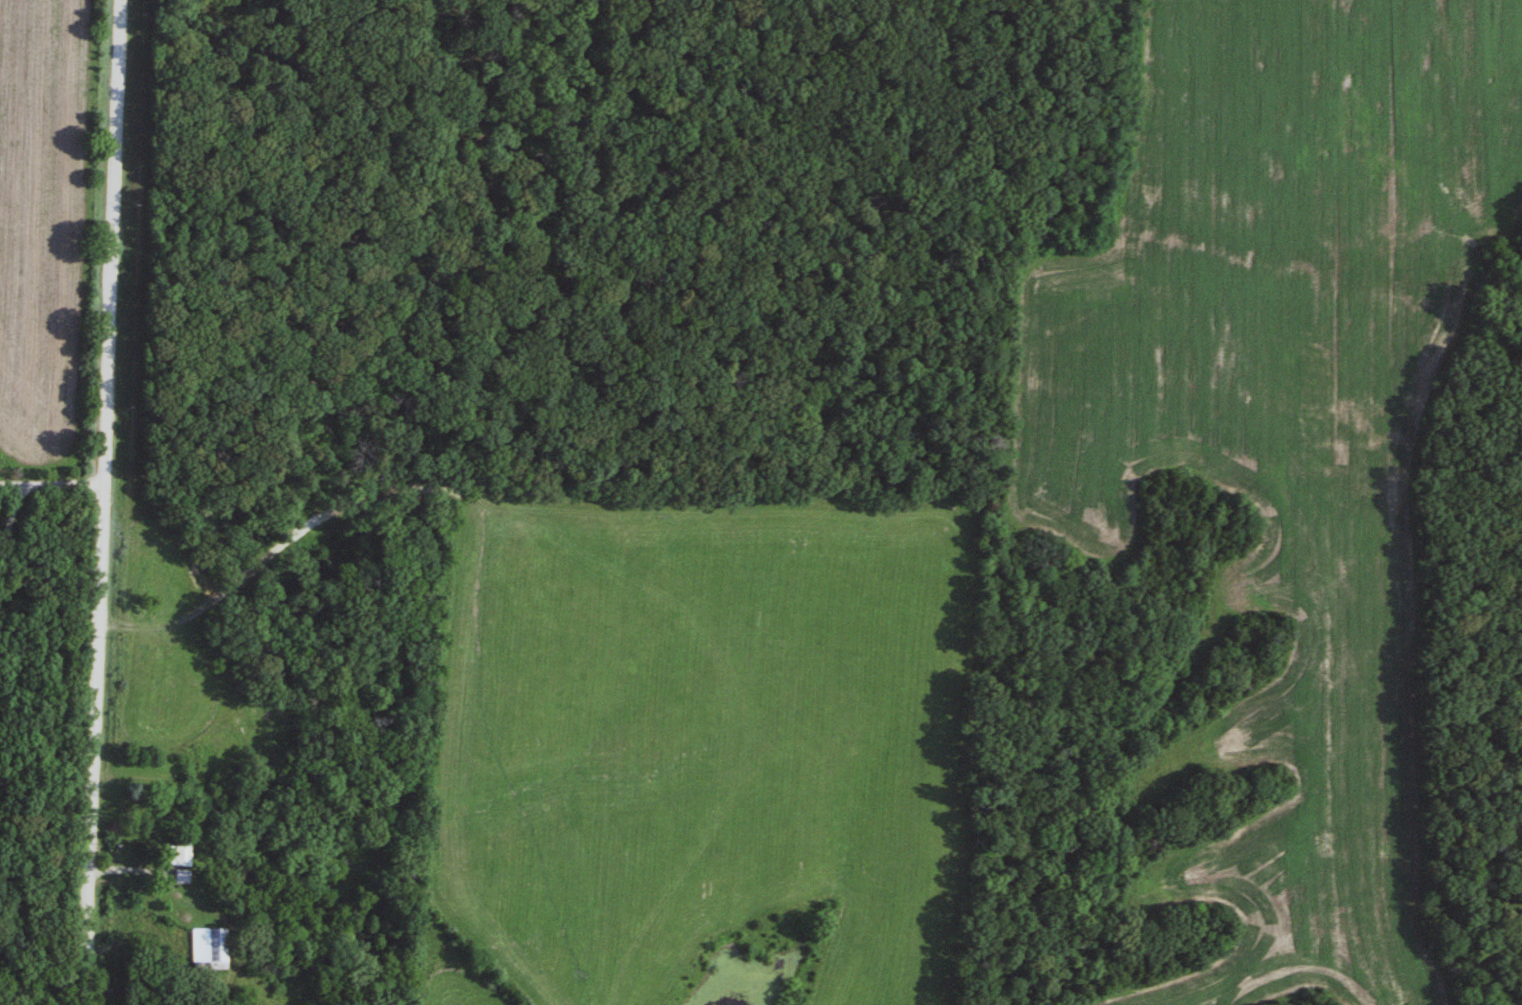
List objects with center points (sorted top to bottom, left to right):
road: (50, 481)
road: (101, 502)
road: (11, 507)
road: (189, 873)
building: (210, 945)

